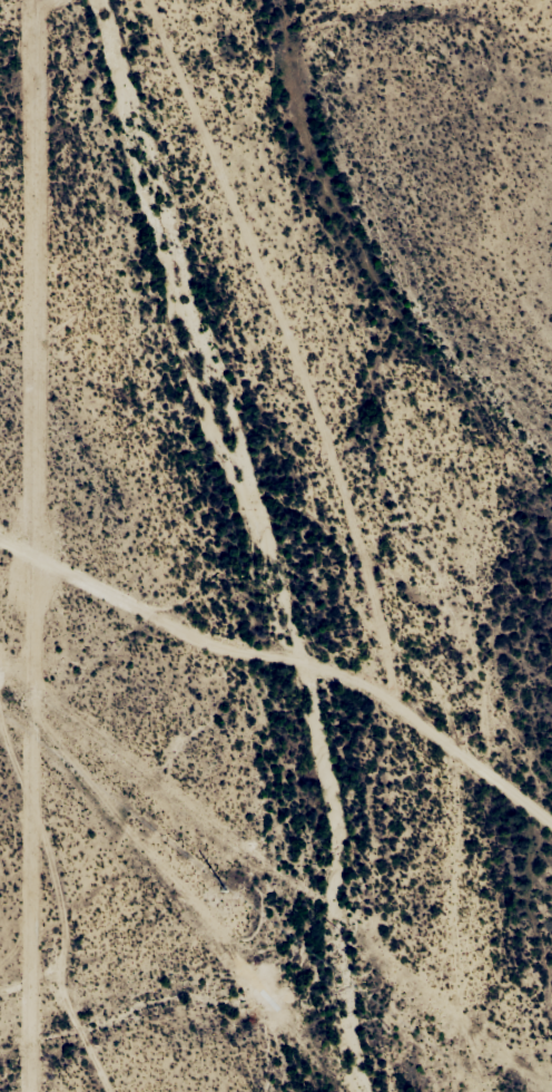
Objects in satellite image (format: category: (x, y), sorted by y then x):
road: (285, 705)
power tower: (225, 887)
road: (8, 974)
road: (37, 984)

